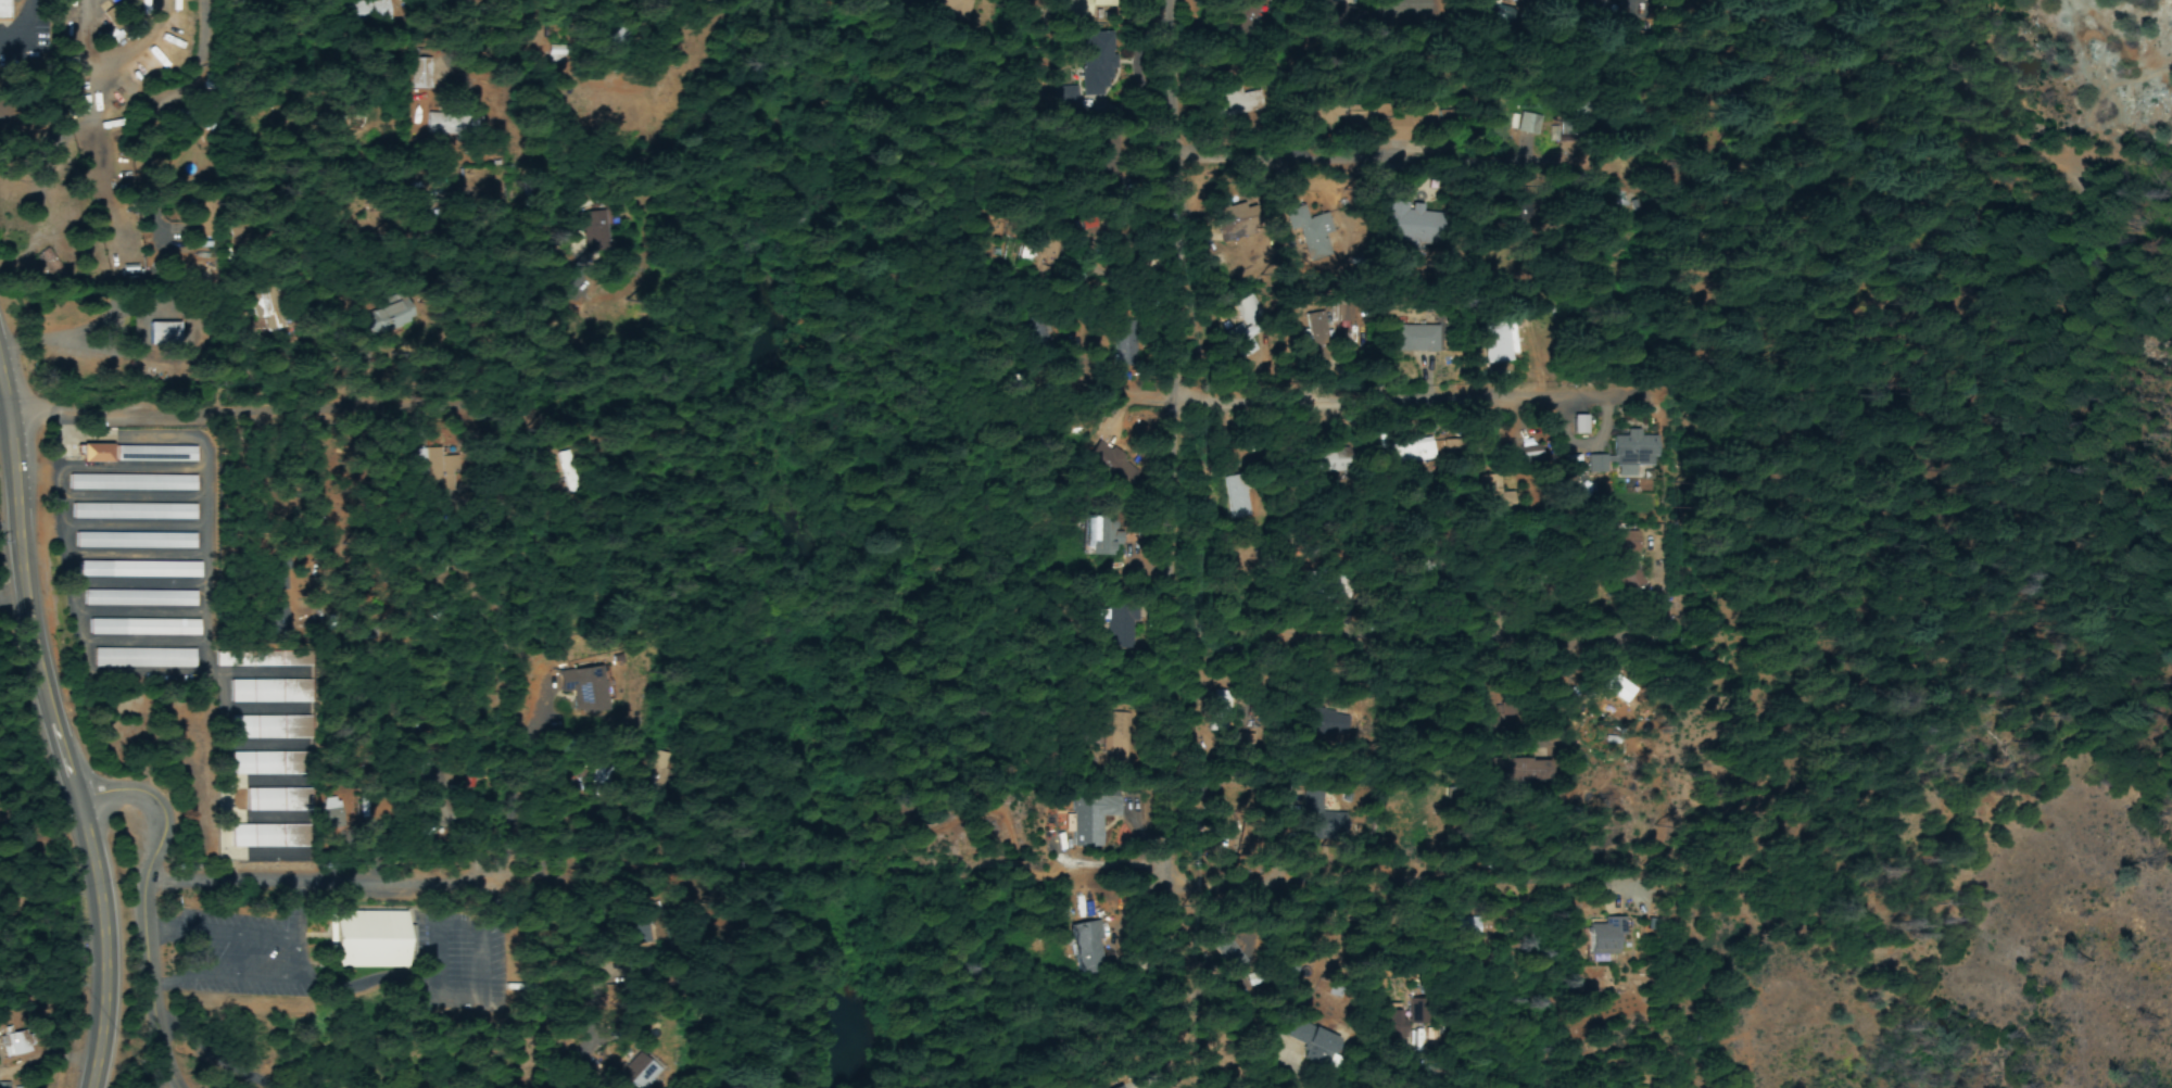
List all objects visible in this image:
building: (1074, 7)
building: (1489, 8)
building: (3, 10)
building: (1085, 59)
building: (420, 75)
building: (1226, 103)
road: (1676, 115)
building: (1519, 125)
building: (1225, 219)
building: (585, 224)
building: (1399, 227)
building: (1303, 235)
building: (266, 309)
building: (1301, 330)
building: (1232, 332)
building: (163, 336)
building: (1404, 339)
building: (1111, 345)
road: (1401, 400)
road: (592, 406)
building: (131, 453)
building: (1398, 453)
building: (1619, 454)
building: (1317, 464)
building: (129, 482)
building: (129, 511)
building: (1096, 537)
building: (131, 540)
road: (1172, 543)
building: (135, 569)
building: (275, 581)
building: (137, 598)
building: (279, 620)
building: (141, 628)
road: (1409, 632)
building: (142, 658)
building: (261, 659)
road: (194, 681)
building: (594, 687)
building: (268, 692)
road: (61, 722)
building: (268, 726)
building: (269, 762)
road: (1314, 762)
road: (359, 764)
building: (417, 774)
building: (276, 798)
building: (330, 814)
building: (1091, 821)
building: (268, 834)
road: (895, 882)
road: (148, 903)
building: (1462, 928)
building: (1599, 937)
building: (367, 939)
building: (1083, 950)
road: (386, 977)
road: (709, 984)
building: (1416, 1013)
building: (13, 1047)
building: (639, 1076)

